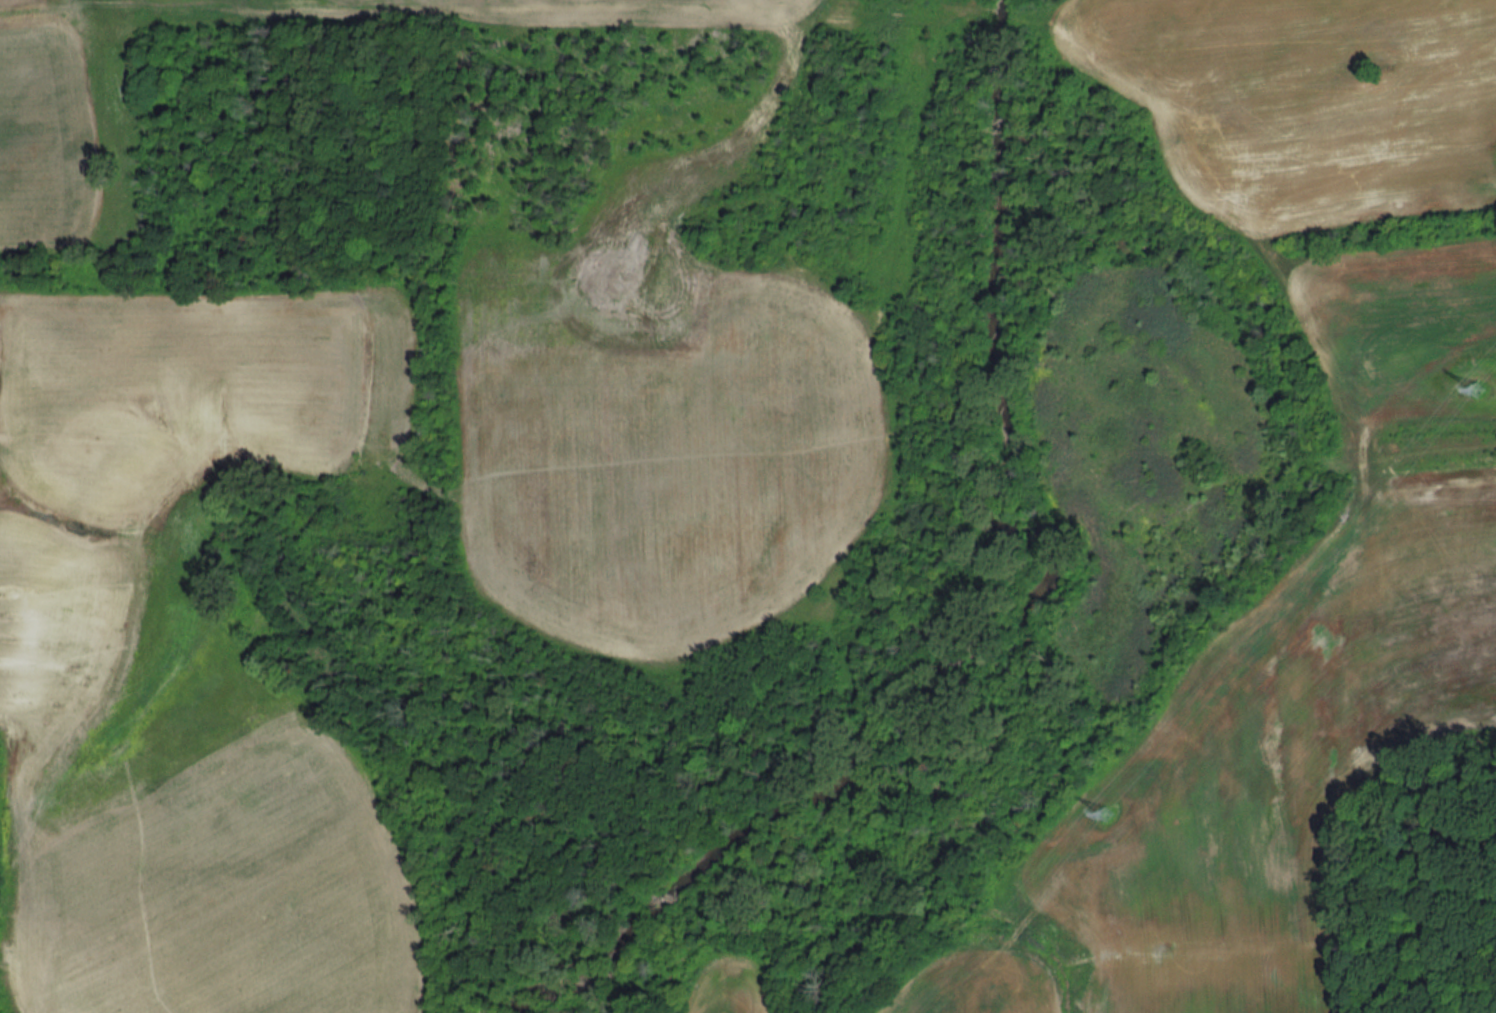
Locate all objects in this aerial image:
crop: (49, 130)
crop: (1330, 163)
crop: (1391, 231)
crop: (1391, 231)
crop: (1391, 231)
power tower: (1477, 393)
crop: (655, 444)
crop: (64, 657)
crop: (1278, 759)
power tower: (1106, 816)
crop: (975, 985)
crop: (730, 986)

